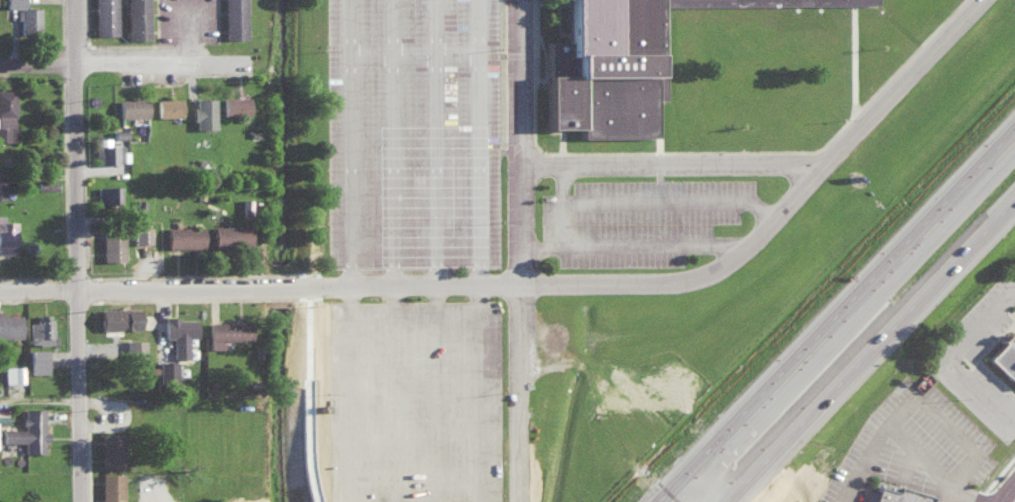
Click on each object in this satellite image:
building: (14, 3)
building: (105, 17)
building: (28, 18)
building: (136, 19)
building: (235, 19)
road: (947, 37)
road: (197, 39)
building: (625, 64)
road: (130, 68)
building: (235, 105)
building: (132, 107)
building: (169, 107)
building: (204, 112)
building: (7, 114)
parking lot: (424, 134)
road: (488, 134)
building: (106, 150)
road: (677, 157)
road: (572, 173)
road: (37, 178)
building: (1, 189)
road: (669, 196)
building: (109, 197)
road: (774, 204)
road: (573, 209)
parking lot: (649, 212)
building: (142, 234)
building: (7, 235)
building: (231, 235)
building: (184, 236)
road: (573, 236)
road: (645, 239)
road: (550, 241)
road: (735, 241)
building: (112, 244)
road: (362, 250)
road: (447, 250)
road: (75, 251)
road: (403, 251)
road: (530, 251)
road: (490, 275)
road: (651, 281)
road: (154, 286)
road: (490, 293)
road: (837, 312)
building: (120, 317)
parking lot: (984, 319)
building: (9, 324)
building: (41, 329)
building: (227, 331)
building: (179, 333)
road: (869, 345)
building: (134, 347)
road: (964, 351)
building: (1009, 352)
building: (38, 360)
building: (167, 371)
building: (13, 373)
parking lot: (987, 386)
road: (307, 393)
road: (937, 400)
parking lot: (425, 403)
road: (490, 403)
road: (39, 404)
parking lot: (947, 424)
building: (28, 430)
road: (929, 447)
building: (111, 448)
parking lot: (889, 458)
road: (860, 482)
building: (111, 487)
road: (980, 487)
road: (956, 489)
road: (1005, 489)
building: (905, 493)
road: (164, 495)
parking lot: (849, 499)
parking lot: (959, 500)

